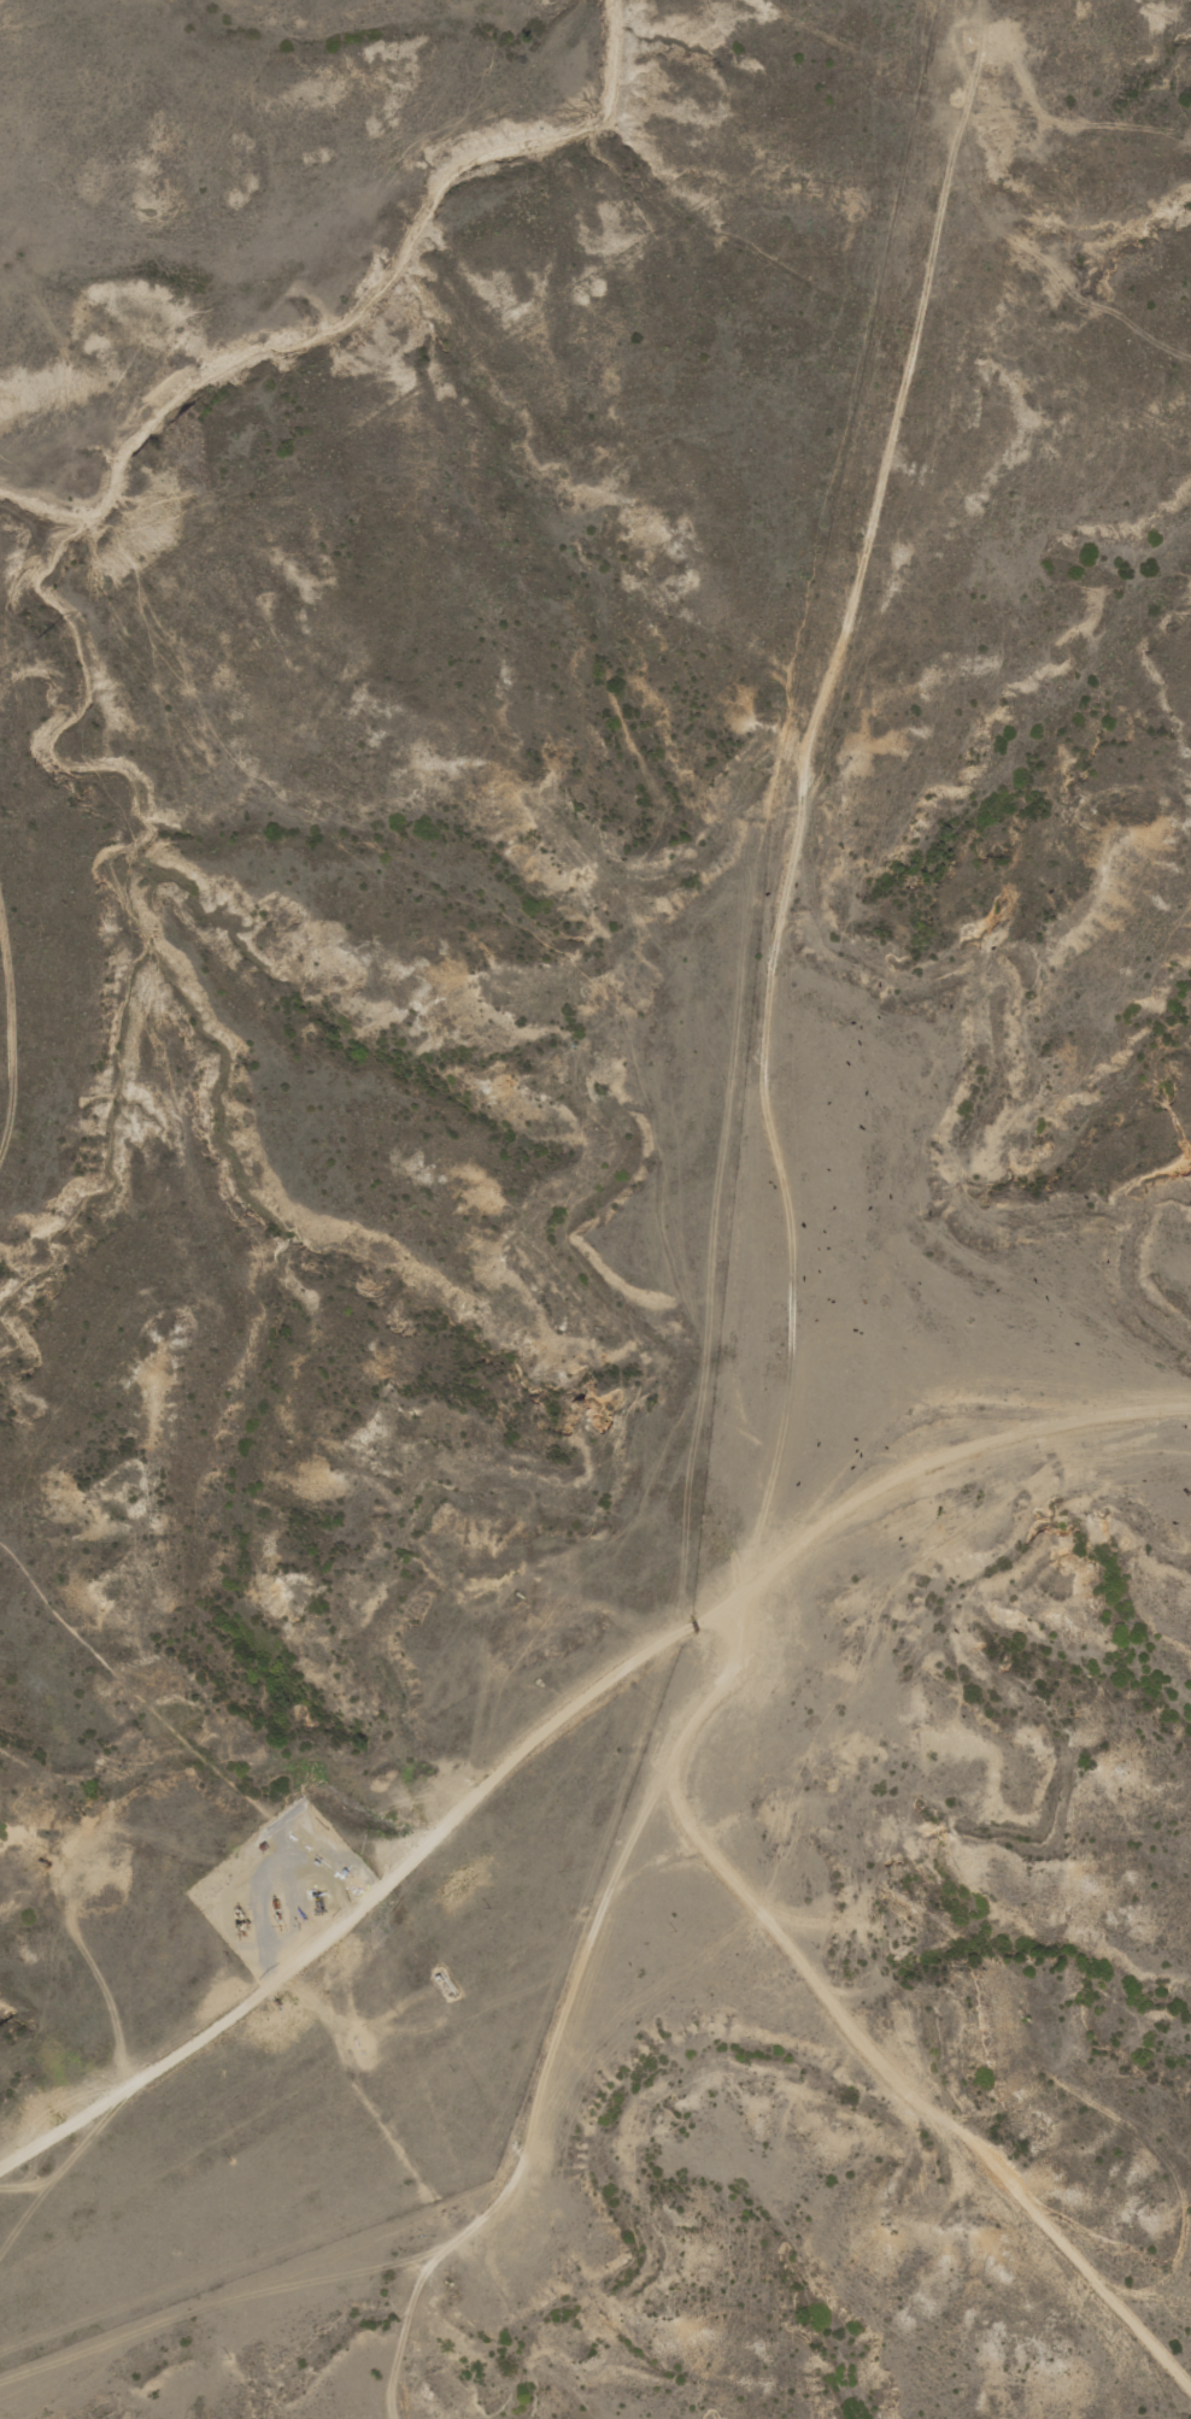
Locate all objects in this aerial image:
road: (764, 1209)
road: (967, 1367)
road: (498, 1809)

